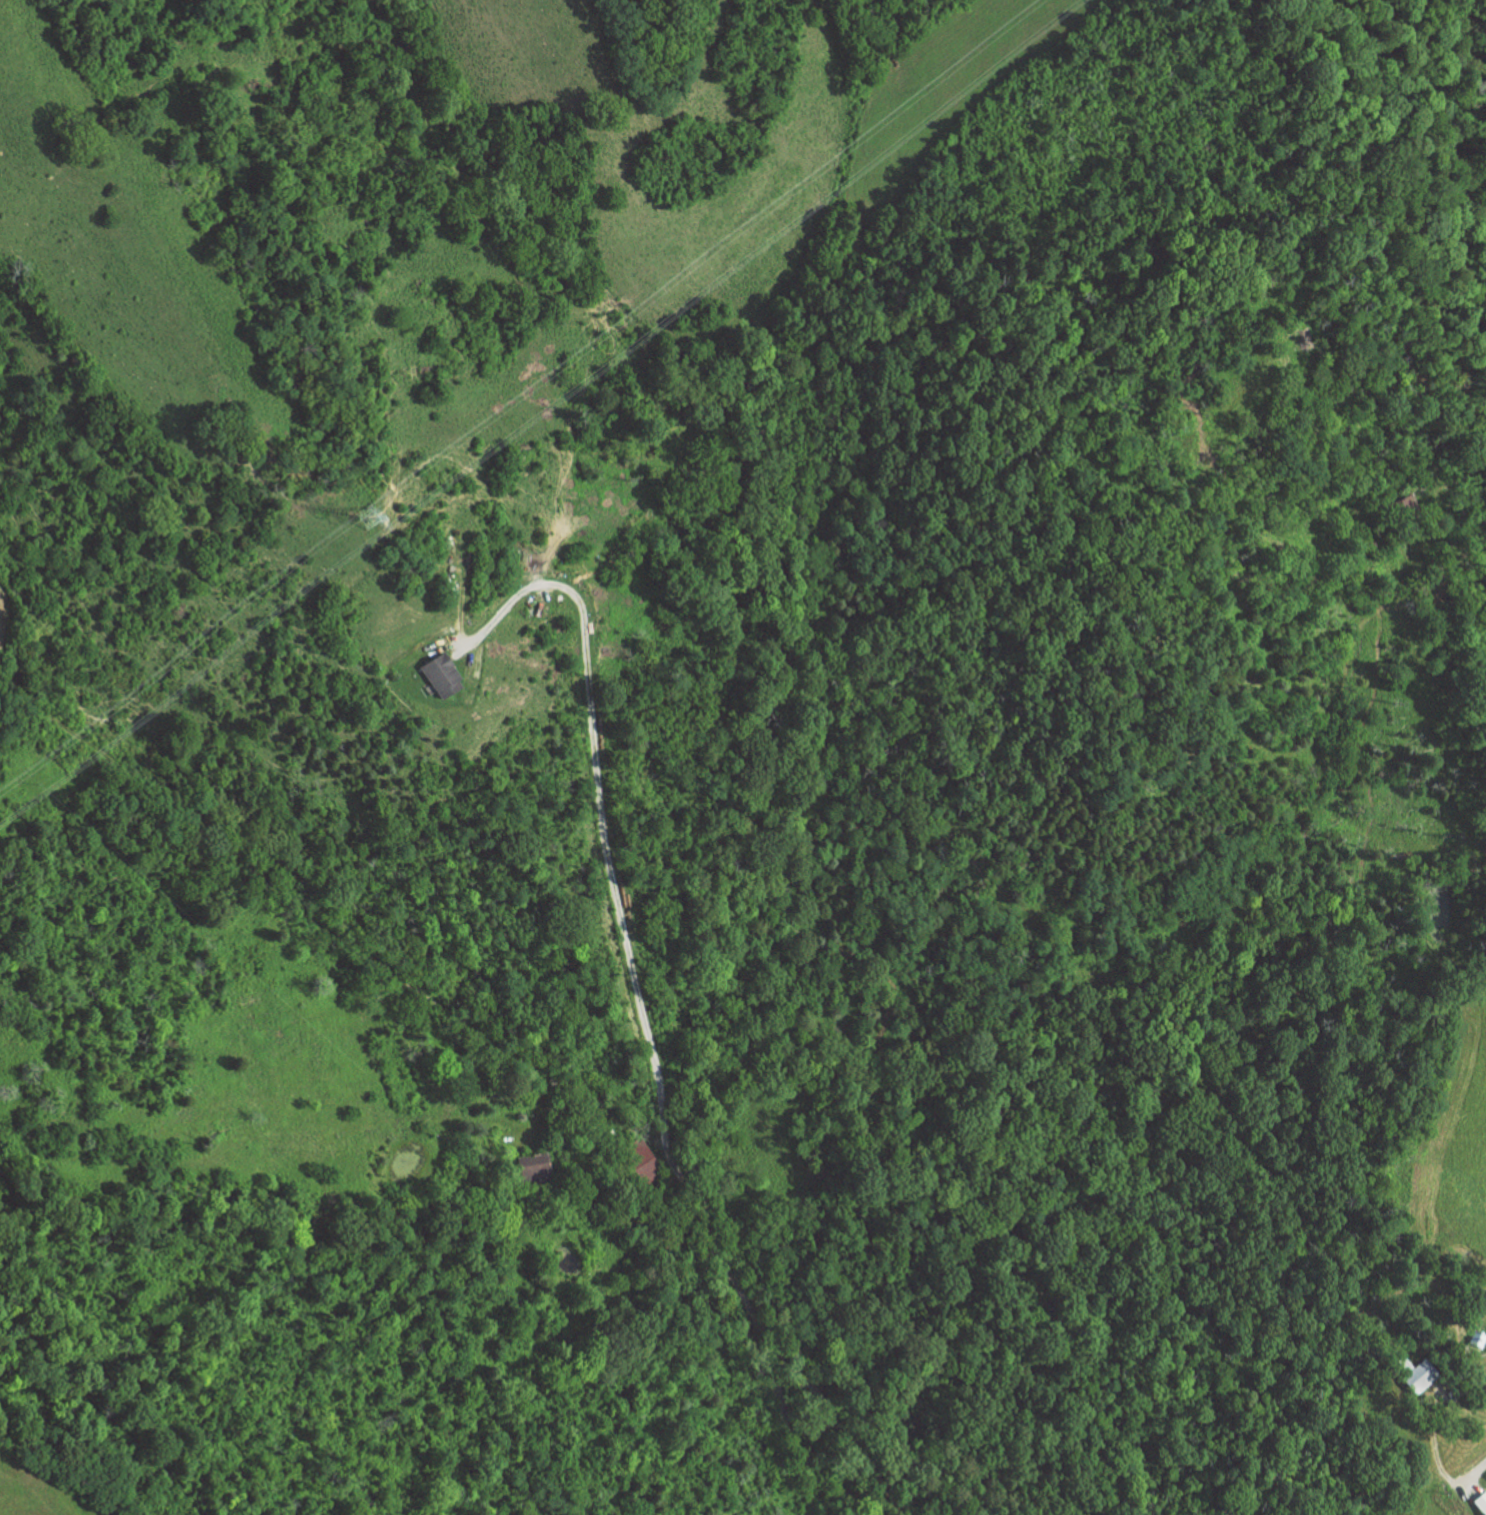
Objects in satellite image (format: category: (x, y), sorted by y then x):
power tower: (364, 520)
road: (596, 808)
road: (466, 1028)
road: (1433, 1445)
road: (1473, 1470)
crop: (33, 1487)

